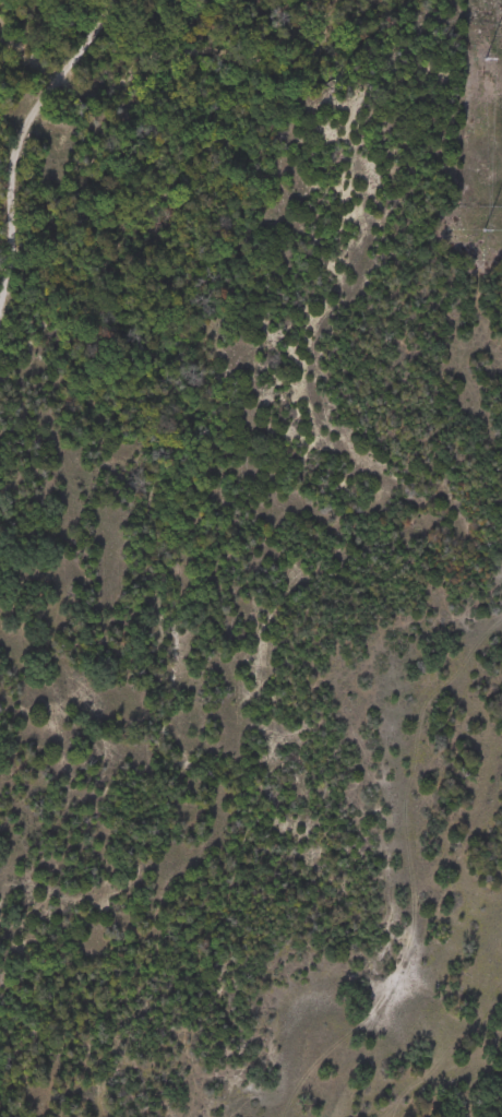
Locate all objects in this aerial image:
power tower: (479, 45)
road: (22, 93)
power tower: (476, 211)

